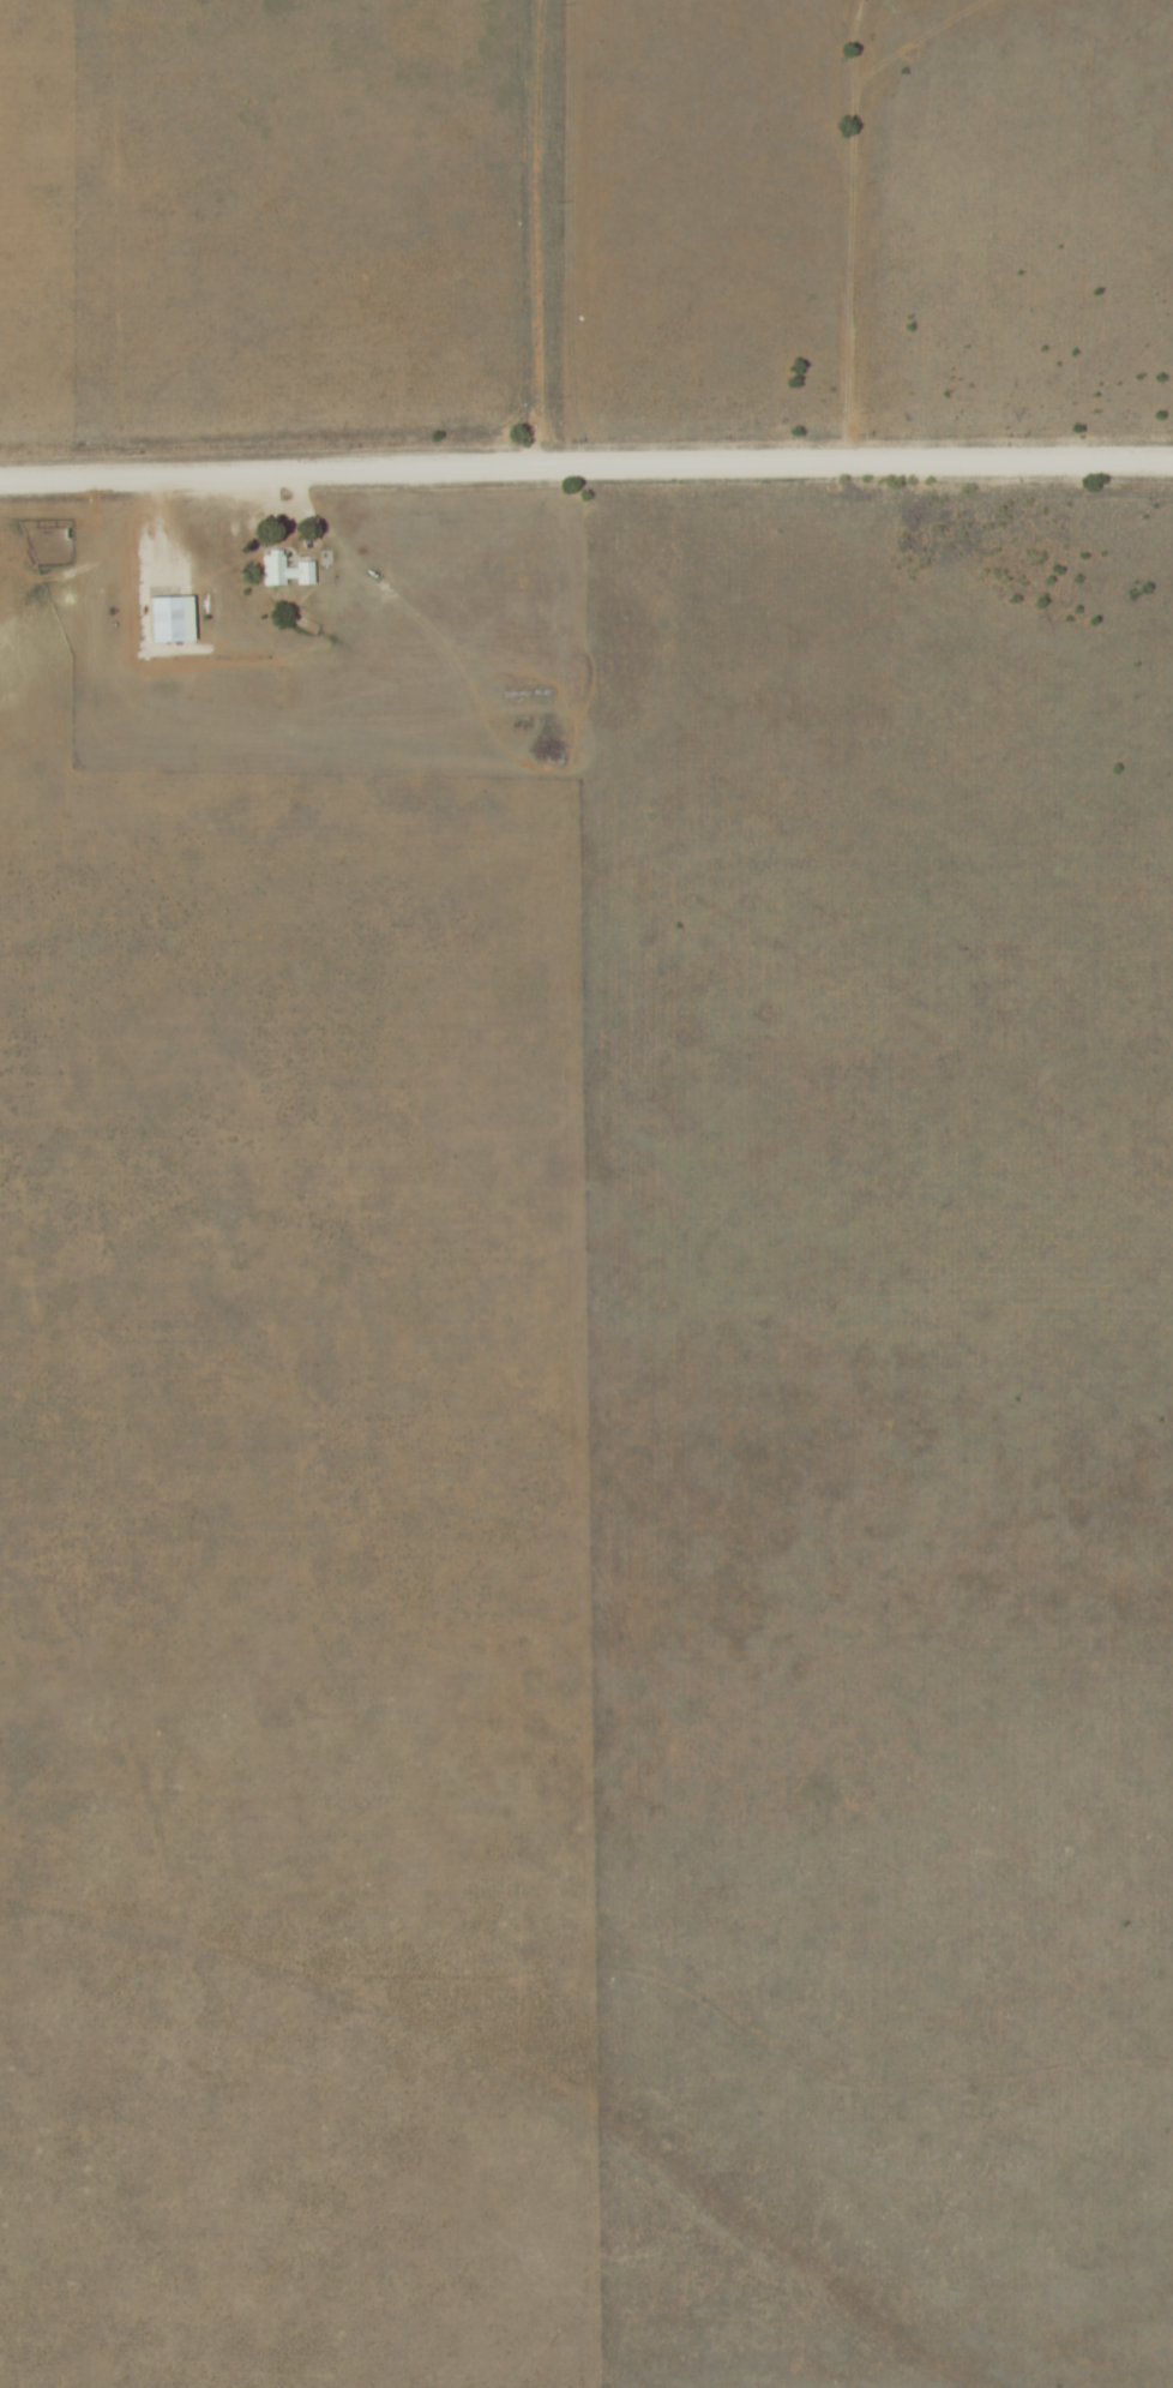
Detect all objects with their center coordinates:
road: (853, 234)
road: (585, 474)
building: (285, 572)
building: (170, 619)

